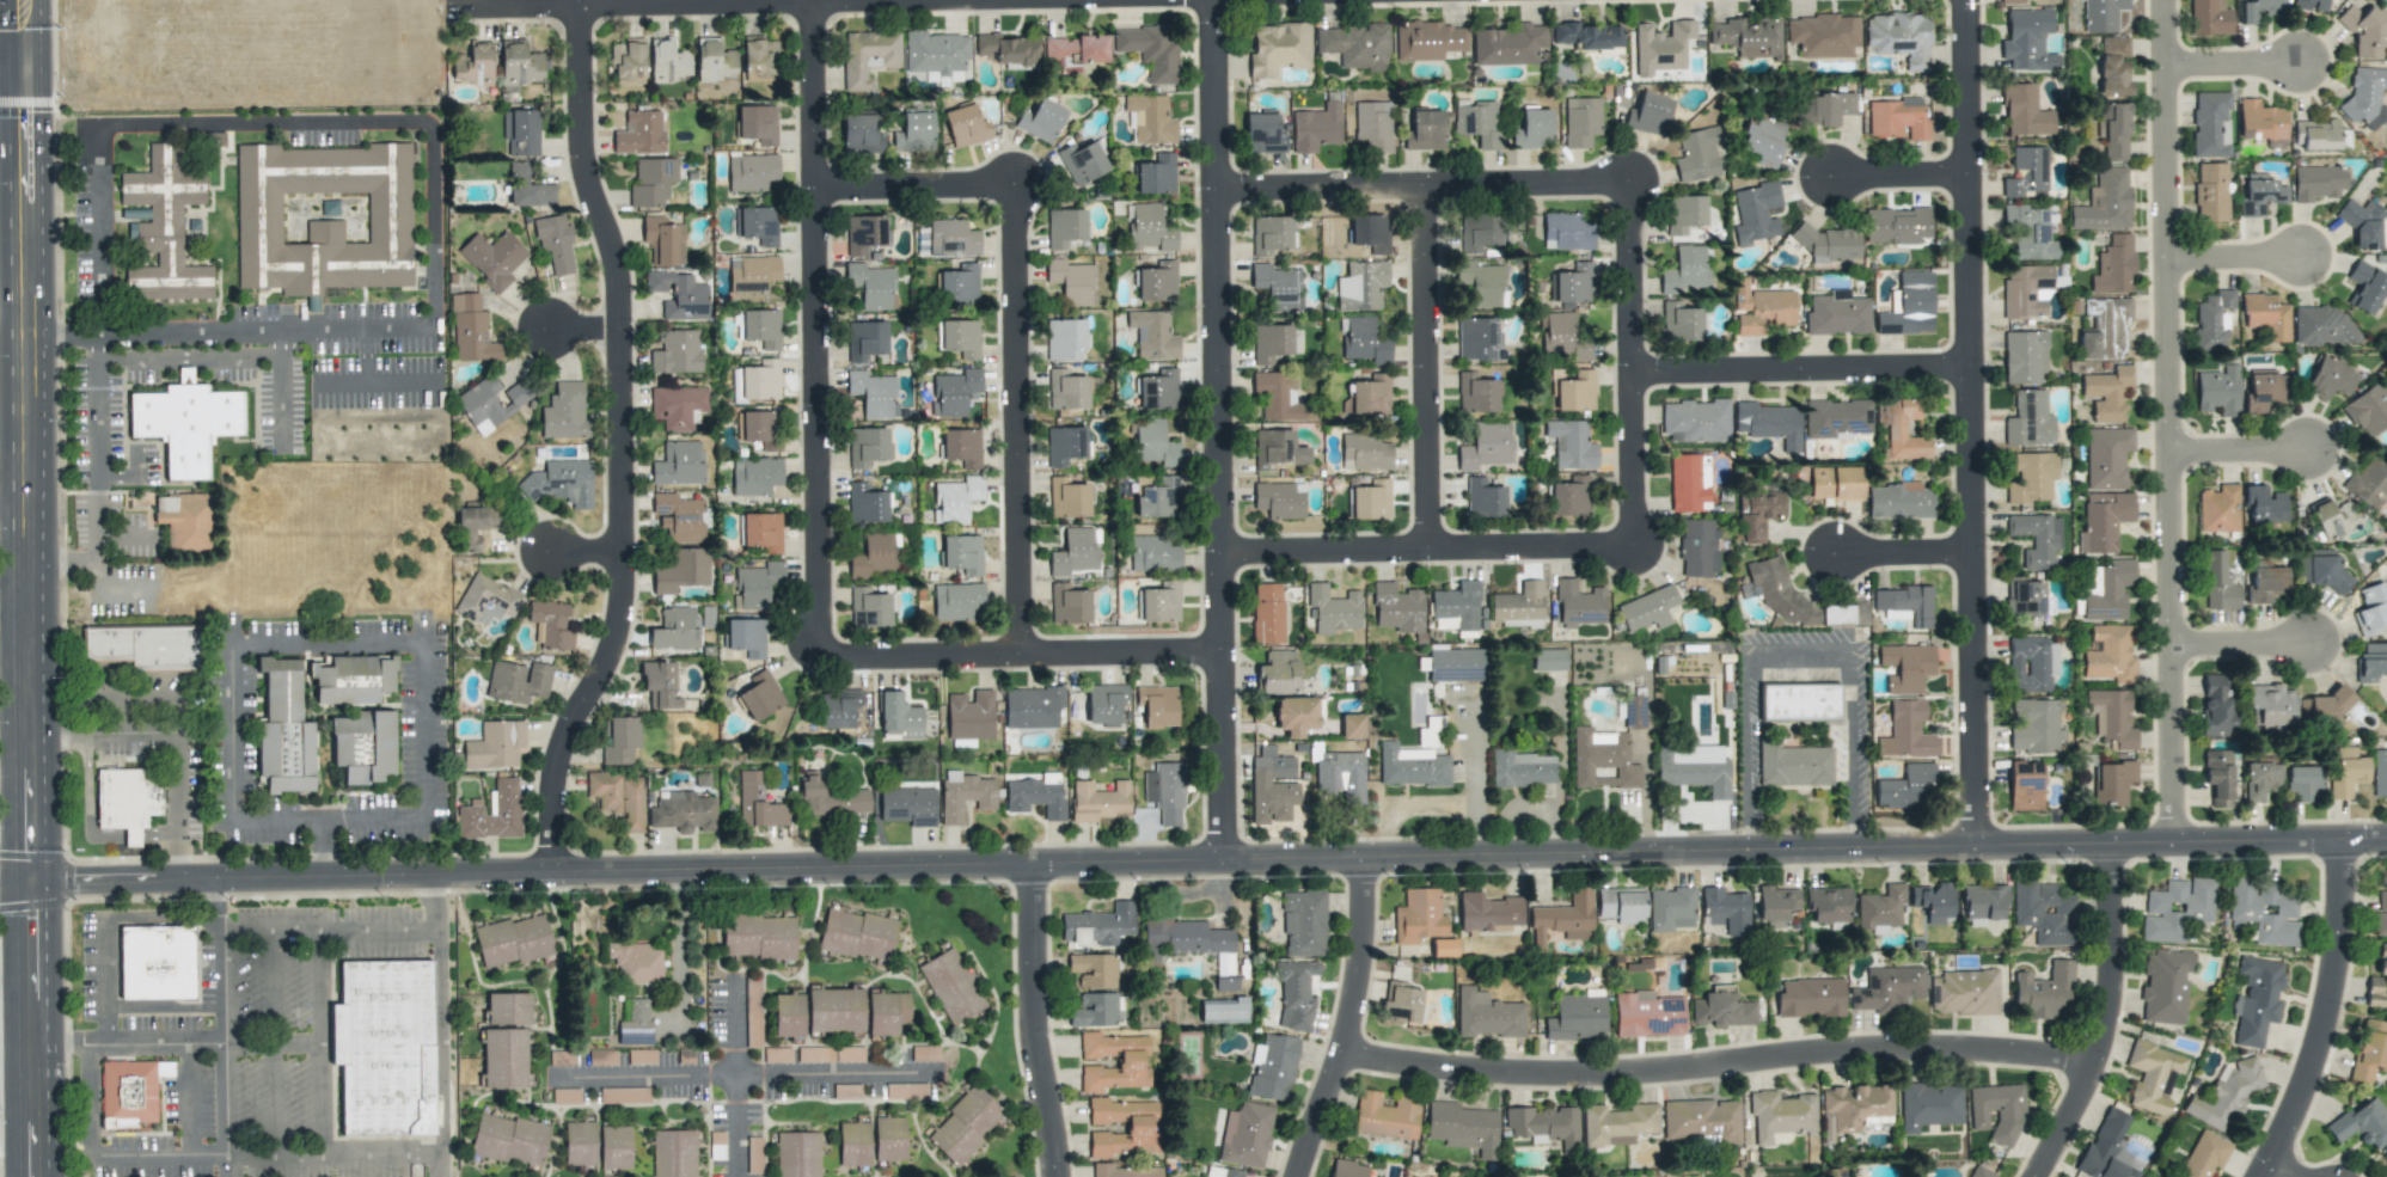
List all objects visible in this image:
road: (634, 0)
building: (2010, 1)
building: (2311, 5)
building: (2257, 10)
building: (2101, 14)
building: (2209, 18)
building: (2367, 31)
building: (1587, 35)
building: (1823, 35)
building: (1748, 37)
building: (1898, 38)
building: (2027, 39)
building: (1428, 41)
building: (1507, 44)
building: (1355, 45)
building: (1660, 47)
building: (1278, 48)
building: (1009, 49)
building: (1150, 49)
building: (935, 53)
building: (1073, 53)
building: (867, 56)
building: (758, 57)
building: (667, 61)
building: (714, 61)
building: (520, 63)
building: (628, 63)
road: (2232, 63)
building: (473, 65)
building: (2113, 66)
road: (11, 72)
building: (2365, 94)
building: (1823, 108)
building: (2024, 111)
building: (1650, 115)
building: (1150, 118)
building: (1897, 118)
building: (1040, 121)
road: (313, 122)
building: (1477, 122)
building: (1580, 122)
building: (757, 123)
building: (2261, 123)
building: (2209, 124)
building: (965, 125)
building: (1372, 125)
building: (1315, 128)
building: (1532, 128)
building: (1425, 130)
building: (2114, 131)
building: (521, 133)
building: (638, 133)
building: (913, 133)
building: (861, 134)
building: (1262, 134)
building: (2315, 134)
building: (1762, 142)
building: (1697, 154)
building: (1082, 163)
building: (751, 171)
road: (1896, 172)
building: (2026, 172)
building: (1156, 174)
road: (1420, 180)
building: (651, 182)
building: (2316, 182)
road: (918, 184)
building: (527, 189)
building: (2210, 191)
building: (2259, 194)
building: (2104, 201)
building: (1684, 213)
building: (1755, 213)
building: (323, 217)
building: (757, 225)
building: (2363, 225)
building: (1896, 226)
building: (164, 227)
building: (1065, 227)
building: (1149, 228)
building: (1479, 232)
building: (1566, 232)
building: (2028, 232)
building: (863, 233)
building: (1370, 233)
building: (1269, 234)
building: (951, 238)
building: (663, 240)
building: (555, 243)
building: (1830, 244)
road: (2233, 256)
building: (492, 258)
building: (2113, 266)
building: (1685, 270)
building: (752, 274)
building: (1071, 281)
building: (1156, 282)
building: (1480, 282)
building: (1571, 283)
building: (870, 284)
building: (959, 284)
building: (1275, 286)
building: (1360, 286)
building: (2365, 287)
building: (2025, 290)
building: (678, 295)
building: (312, 304)
building: (1908, 306)
building: (1836, 313)
building: (2265, 315)
building: (2212, 320)
building: (1679, 321)
building: (2321, 325)
road: (820, 326)
building: (761, 327)
road: (588, 329)
building: (2104, 329)
road: (231, 330)
building: (471, 330)
building: (1152, 335)
building: (1562, 336)
building: (957, 338)
building: (1476, 338)
building: (865, 339)
building: (1065, 339)
building: (1361, 341)
building: (1269, 343)
building: (675, 353)
road: (185, 356)
road: (367, 356)
building: (2024, 357)
road: (1621, 360)
road: (1420, 363)
road: (1792, 369)
building: (2330, 378)
building: (760, 380)
road: (381, 385)
building: (735, 386)
building: (1066, 390)
building: (1157, 390)
road: (279, 391)
building: (1574, 391)
building: (2218, 391)
building: (2263, 391)
building: (953, 392)
building: (871, 393)
building: (1476, 393)
building: (2106, 393)
building: (1277, 396)
building: (1366, 396)
building: (489, 403)
building: (677, 406)
road: (93, 407)
building: (2368, 410)
building: (564, 412)
road: (1021, 418)
building: (1836, 418)
building: (2028, 419)
building: (1695, 421)
road: (2167, 421)
building: (185, 423)
building: (1768, 423)
road: (1965, 423)
building: (758, 428)
road: (1220, 428)
building: (1903, 429)
road: (29, 440)
road: (625, 440)
building: (1152, 442)
building: (1064, 445)
building: (1571, 445)
building: (867, 446)
building: (1485, 446)
building: (961, 447)
building: (1277, 449)
road: (2240, 449)
building: (1364, 452)
building: (2106, 456)
building: (678, 464)
road: (136, 465)
building: (755, 476)
building: (2032, 477)
road: (116, 482)
building: (559, 483)
building: (1688, 483)
building: (1835, 483)
building: (2368, 484)
road: (14, 492)
building: (1569, 496)
building: (1067, 498)
building: (1158, 498)
building: (1483, 498)
building: (955, 499)
building: (1279, 499)
building: (1371, 499)
building: (1898, 501)
building: (864, 503)
building: (2263, 505)
building: (2217, 509)
building: (1757, 515)
building: (679, 517)
building: (2333, 519)
building: (184, 521)
building: (2103, 521)
building: (475, 526)
building: (761, 532)
building: (2036, 539)
road: (1420, 545)
road: (590, 548)
building: (1697, 548)
building: (1075, 552)
building: (962, 553)
road: (1898, 553)
building: (1153, 554)
building: (875, 556)
road: (63, 562)
road: (97, 565)
building: (2320, 569)
building: (681, 570)
building: (2216, 582)
building: (2265, 582)
building: (757, 584)
building: (2106, 589)
building: (1779, 591)
building: (2024, 596)
building: (486, 600)
building: (956, 601)
building: (1159, 602)
building: (1906, 603)
building: (1069, 605)
building: (1578, 605)
building: (1518, 606)
building: (1455, 607)
building: (868, 608)
building: (1397, 608)
building: (2371, 608)
building: (1332, 609)
building: (1647, 609)
road: (16, 613)
building: (1267, 613)
building: (1843, 614)
building: (550, 624)
building: (675, 630)
building: (746, 637)
road: (414, 642)
road: (2239, 643)
building: (143, 646)
road: (1023, 655)
road: (1799, 655)
building: (2108, 655)
building: (1548, 660)
building: (2370, 663)
building: (1455, 664)
building: (2031, 664)
building: (1905, 667)
building: (1277, 673)
building: (351, 679)
building: (518, 681)
building: (662, 686)
building: (760, 695)
building: (1104, 703)
building: (1799, 703)
building: (1157, 706)
building: (2215, 706)
building: (2269, 706)
building: (838, 707)
building: (1032, 707)
building: (2326, 709)
building: (1634, 712)
building: (969, 715)
building: (1295, 715)
building: (2111, 717)
building: (899, 718)
building: (1351, 725)
building: (2033, 725)
building: (283, 730)
building: (1905, 731)
building: (1431, 732)
road: (234, 736)
building: (619, 740)
road: (171, 741)
building: (495, 744)
building: (362, 746)
building: (1602, 759)
building: (1793, 765)
building: (1410, 766)
building: (1695, 767)
building: (1522, 768)
building: (2346, 773)
building: (2379, 774)
building: (1340, 777)
building: (2217, 777)
building: (2259, 780)
building: (2112, 781)
building: (2301, 781)
building: (2024, 785)
building: (1271, 786)
building: (1906, 787)
building: (1164, 792)
building: (965, 795)
building: (1035, 795)
building: (618, 798)
building: (830, 798)
building: (127, 801)
building: (1098, 802)
building: (758, 803)
building: (907, 805)
building: (469, 810)
building: (683, 811)
road: (329, 820)
road: (322, 848)
road: (1210, 858)
road: (17, 882)
building: (1932, 901)
building: (1983, 901)
building: (1776, 902)
building: (1621, 905)
building: (1828, 905)
building: (1670, 909)
building: (1879, 909)
building: (1725, 911)
building: (2177, 911)
building: (2264, 911)
building: (2044, 912)
building: (1488, 913)
building: (2381, 913)
road: (163, 917)
building: (1418, 917)
building: (1563, 918)
building: (1303, 922)
building: (1097, 925)
road: (678, 927)
road: (328, 928)
building: (857, 934)
building: (758, 936)
building: (1183, 938)
building: (512, 940)
building: (1443, 948)
building: (155, 962)
building: (636, 962)
building: (1224, 963)
building: (1094, 969)
road: (271, 973)
road: (106, 980)
building: (2377, 981)
building: (951, 986)
building: (2165, 986)
building: (1887, 989)
building: (1963, 992)
building: (2044, 992)
building: (1295, 993)
building: (1810, 998)
building: (2256, 1000)
building: (1402, 1003)
building: (508, 1009)
building: (1721, 1009)
building: (834, 1010)
building: (886, 1011)
building: (1094, 1011)
building: (1223, 1011)
building: (752, 1012)
building: (787, 1014)
building: (1487, 1014)
building: (1647, 1014)
road: (2331, 1014)
road: (2112, 1016)
building: (1577, 1018)
road: (1042, 1019)
road: (1357, 1019)
building: (635, 1023)
road: (440, 1024)
road: (222, 1028)
road: (36, 1029)
road: (179, 1043)
road: (322, 1043)
building: (384, 1047)
building: (2369, 1050)
building: (925, 1053)
building: (777, 1054)
building: (815, 1054)
building: (642, 1056)
building: (504, 1058)
building: (605, 1058)
building: (1130, 1062)
building: (1272, 1067)
road: (1724, 1073)
road: (741, 1074)
building: (2153, 1075)
road: (734, 1079)
road: (273, 1087)
building: (914, 1091)
building: (131, 1093)
building: (2224, 1093)
building: (619, 1095)
road: (196, 1099)
building: (1854, 1105)
building: (1928, 1105)
building: (1996, 1110)
building: (1780, 1114)
building: (1387, 1116)
building: (1701, 1120)
building: (1617, 1123)
building: (2362, 1123)
building: (963, 1126)
building: (1544, 1126)
building: (1140, 1127)
building: (1463, 1128)
building: (1245, 1135)
building: (509, 1139)
building: (889, 1139)
building: (579, 1144)
building: (853, 1144)
building: (2106, 1147)
building: (614, 1148)
building: (673, 1153)
building: (797, 1154)
building: (2203, 1155)
road: (104, 1157)
road: (335, 1158)
building: (1347, 1169)
road: (2287, 1170)
building: (1124, 1171)
building: (1222, 1172)
building: (1981, 1172)
building: (2163, 1176)

